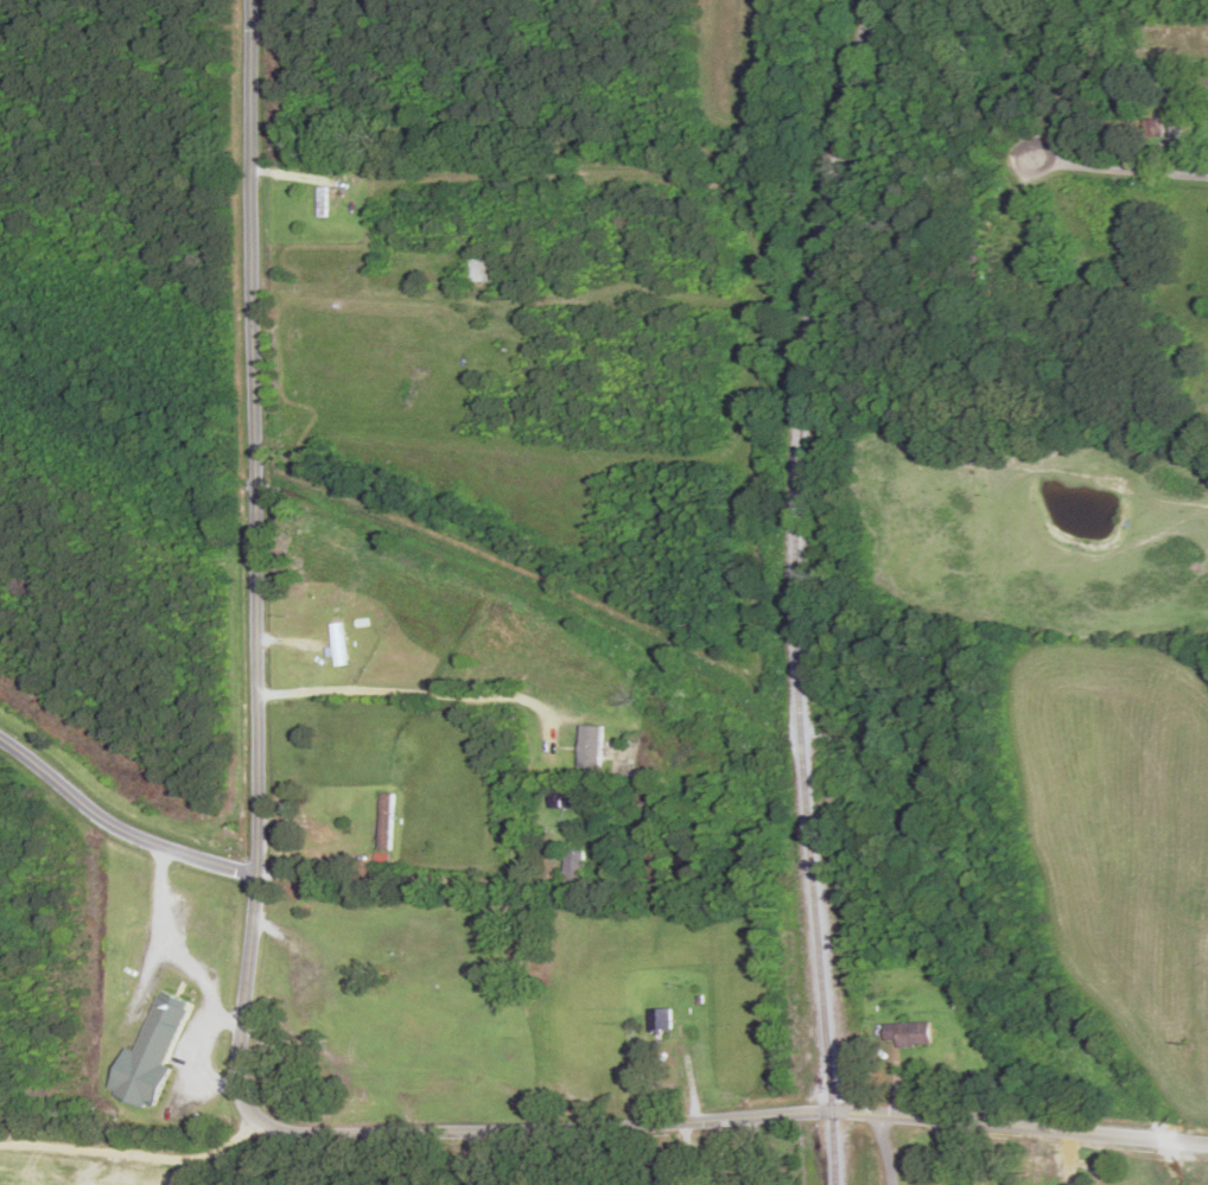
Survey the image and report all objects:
road: (1069, 223)
building: (482, 270)
road: (288, 562)
railway: (797, 588)
road: (144, 781)
building: (567, 798)
building: (387, 822)
building: (573, 866)
building: (660, 1021)
building: (915, 1034)
building: (151, 1055)
road: (560, 1120)
road: (1021, 1133)
road: (885, 1147)

